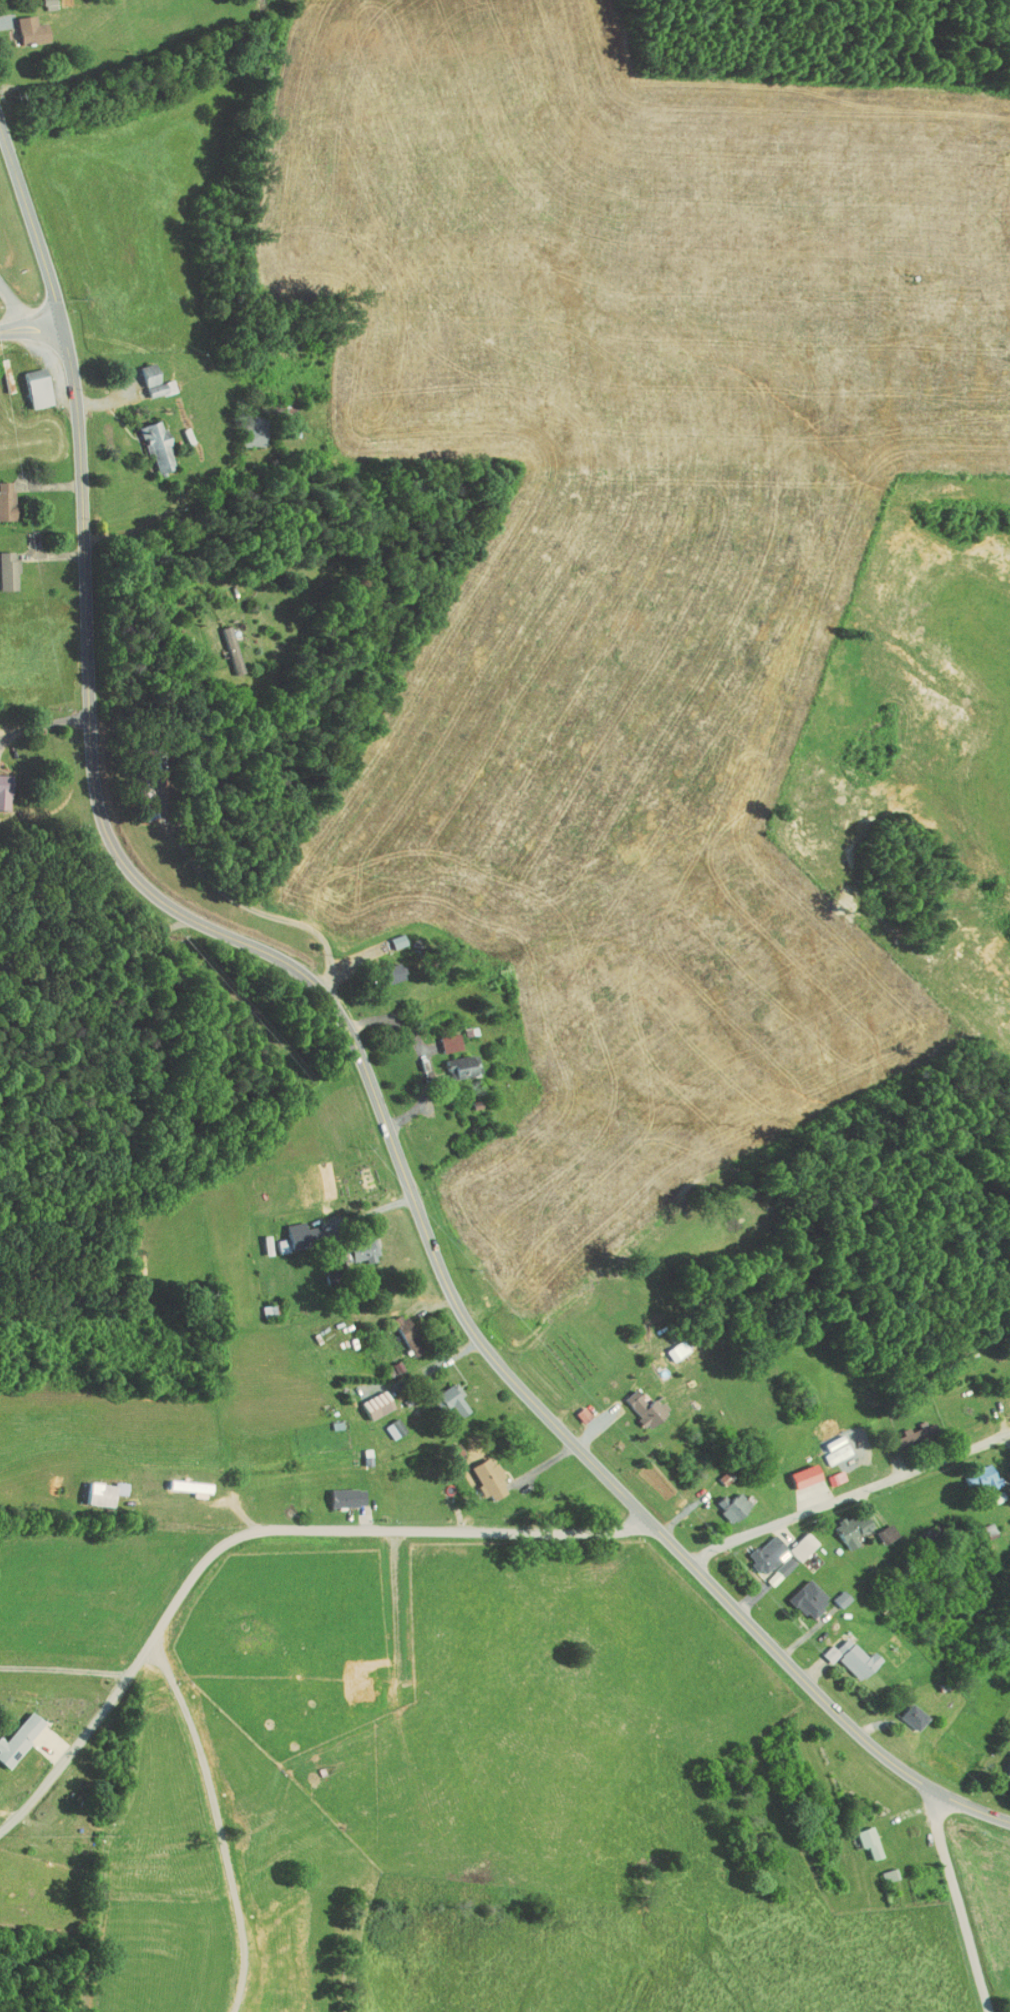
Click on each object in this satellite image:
building: (40, 1)
building: (23, 24)
road: (14, 305)
road: (30, 324)
building: (148, 375)
building: (30, 382)
building: (247, 430)
building: (150, 439)
building: (3, 495)
road: (248, 554)
building: (4, 565)
building: (229, 645)
building: (1, 787)
building: (385, 967)
road: (345, 1037)
building: (441, 1037)
building: (452, 1061)
building: (291, 1229)
building: (356, 1244)
building: (403, 1330)
building: (669, 1344)
building: (1004, 1382)
building: (445, 1392)
building: (370, 1397)
building: (637, 1402)
building: (578, 1406)
building: (386, 1422)
building: (893, 1430)
building: (823, 1444)
building: (789, 1470)
building: (970, 1471)
building: (479, 1472)
building: (823, 1472)
building: (97, 1486)
building: (340, 1491)
building: (721, 1499)
road: (843, 1499)
building: (838, 1523)
road: (251, 1525)
building: (872, 1527)
building: (789, 1540)
building: (758, 1551)
building: (793, 1593)
building: (829, 1593)
building: (838, 1651)
road: (58, 1663)
building: (897, 1711)
building: (15, 1730)
building: (31, 1731)
building: (1001, 1760)
building: (856, 1835)
building: (878, 1868)
road: (958, 1902)

